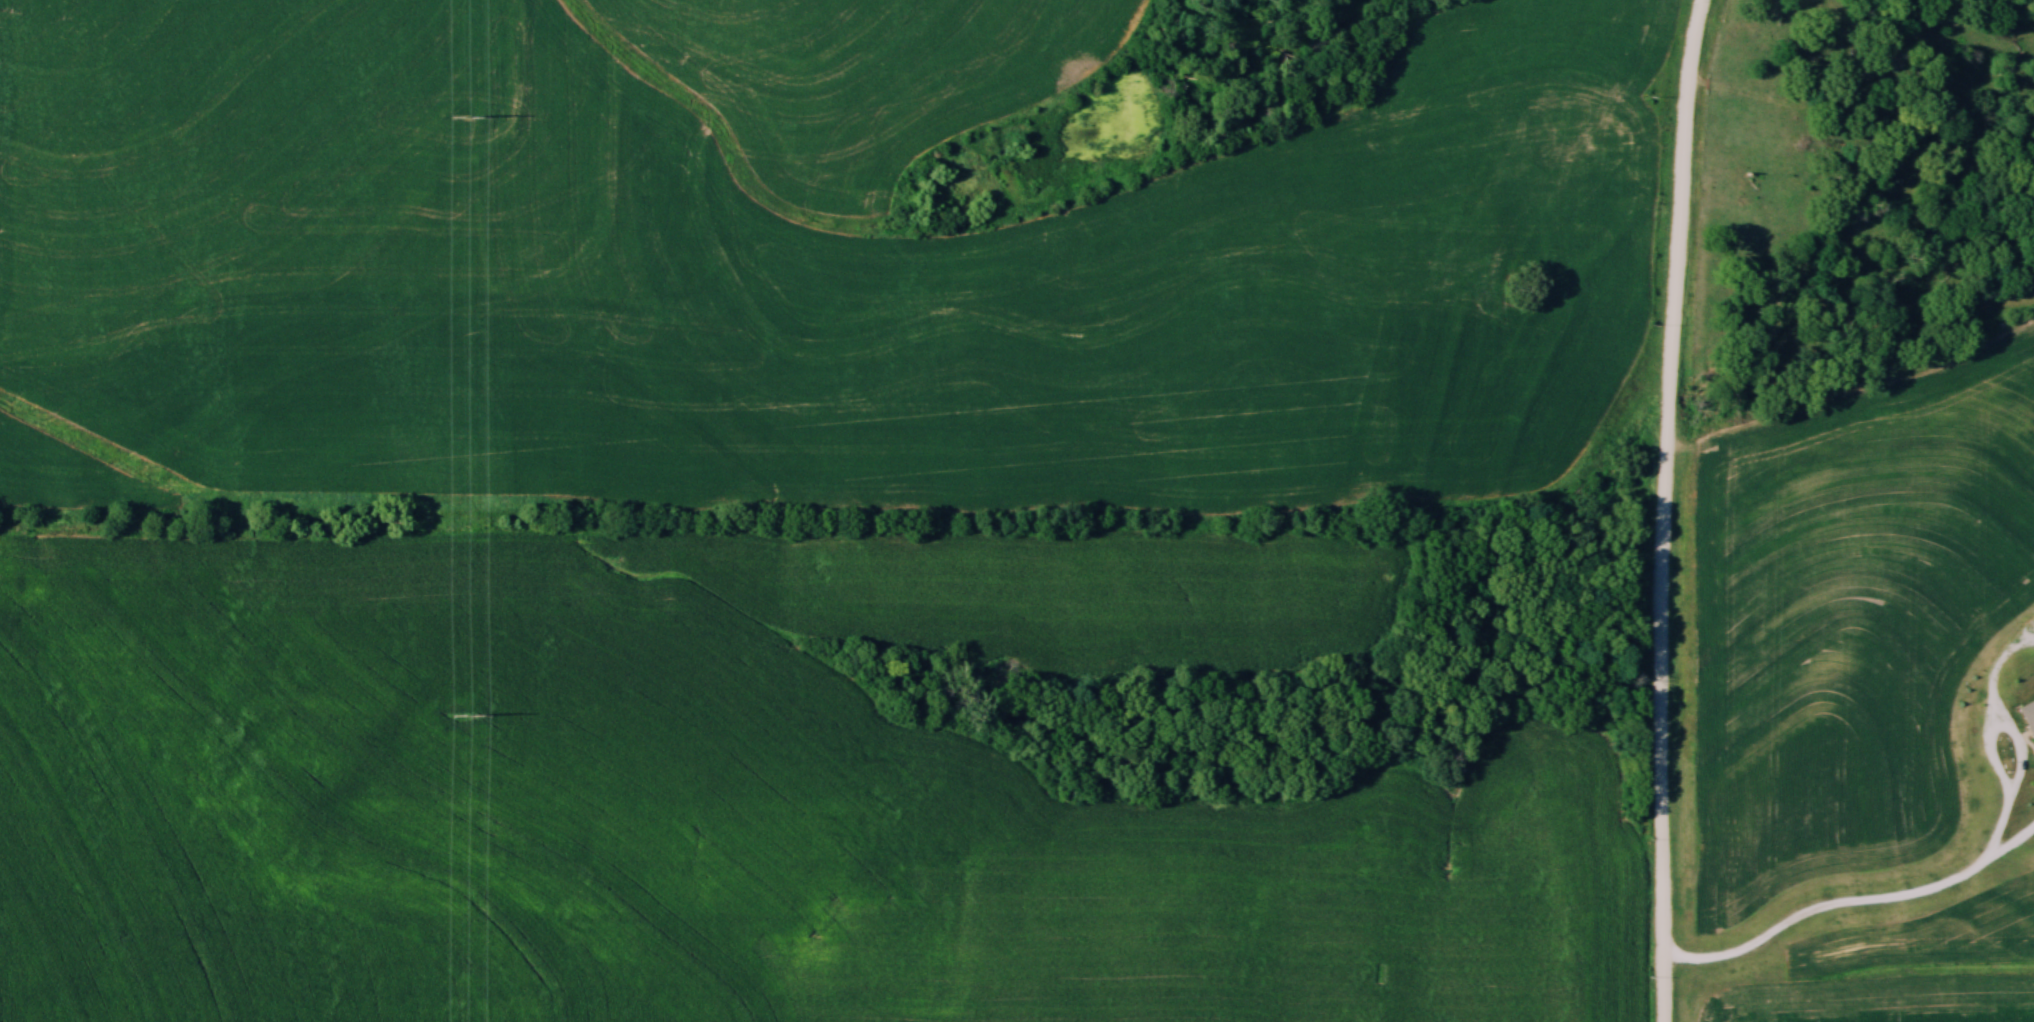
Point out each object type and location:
power tower: (466, 115)
road: (1664, 509)
power tower: (464, 715)
road: (1937, 885)

